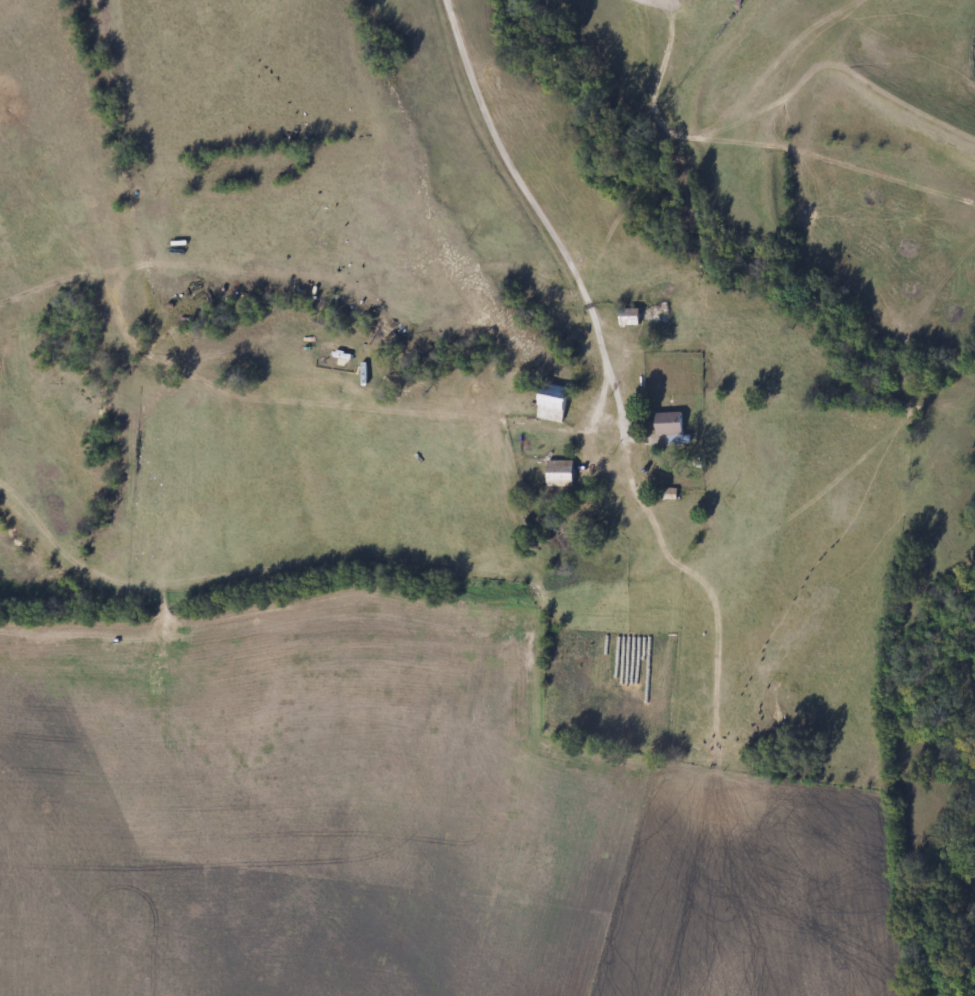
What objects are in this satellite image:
road: (647, 4)
road: (561, 196)
building: (631, 317)
building: (556, 403)
building: (671, 422)
building: (560, 473)

